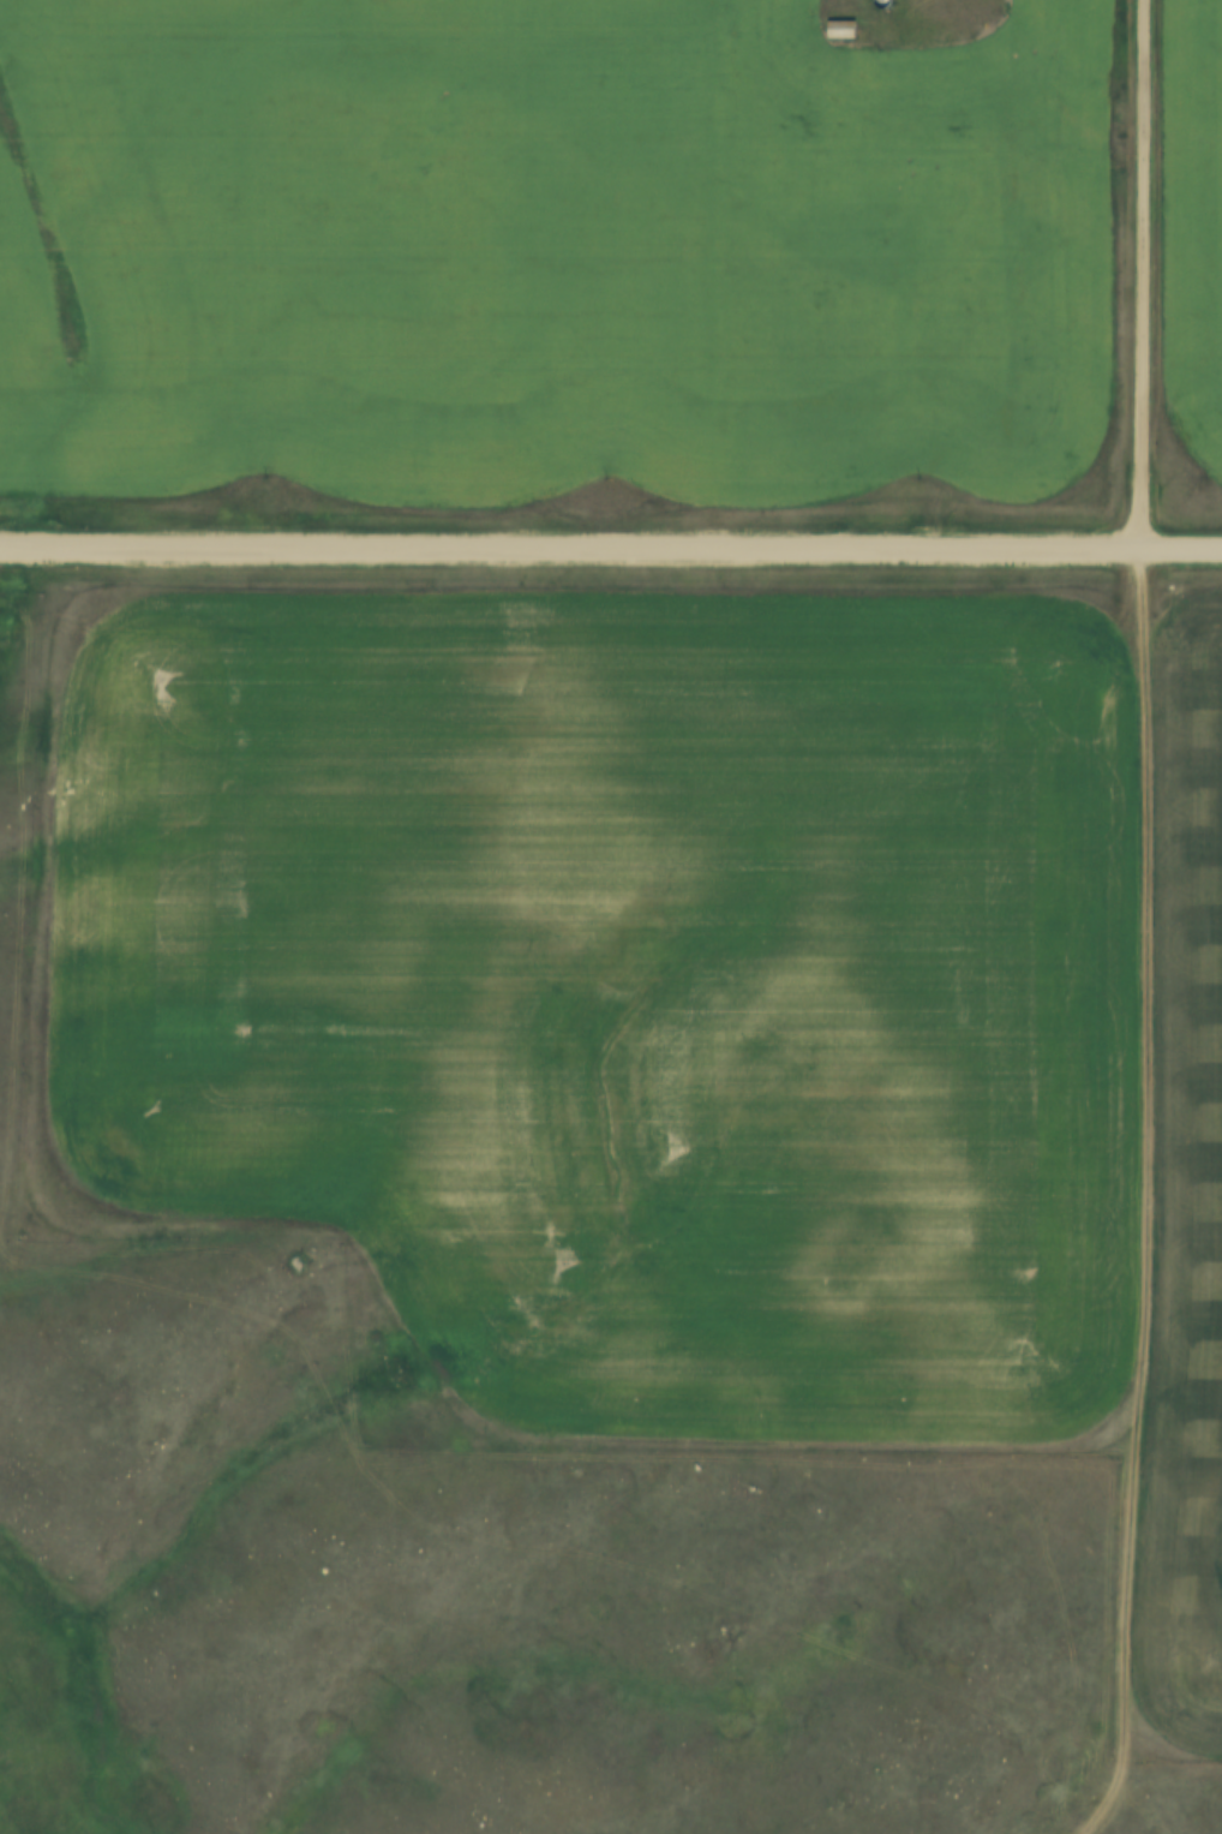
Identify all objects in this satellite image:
building: (840, 28)
road: (1137, 277)
road: (610, 554)
road: (1150, 1209)

